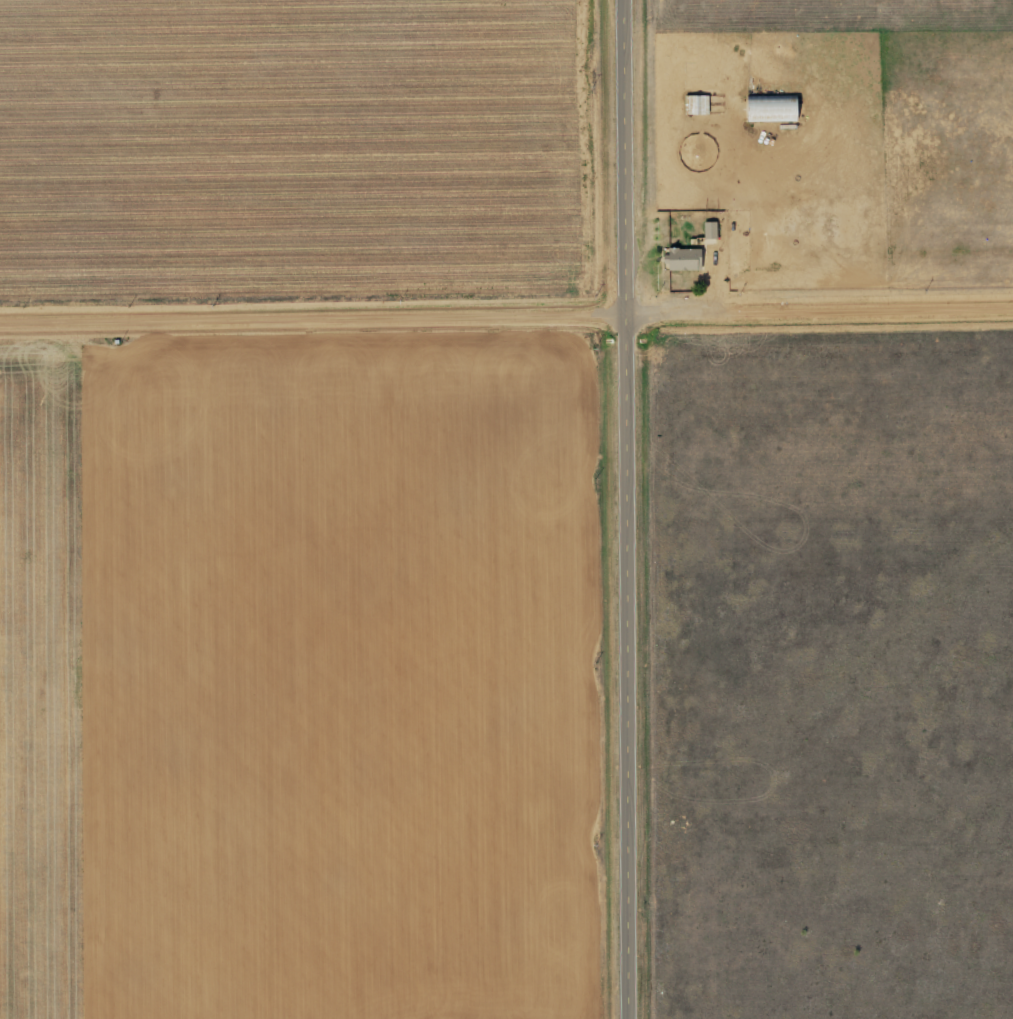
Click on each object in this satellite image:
building: (693, 105)
building: (768, 108)
building: (679, 259)
road: (506, 353)
road: (656, 509)

